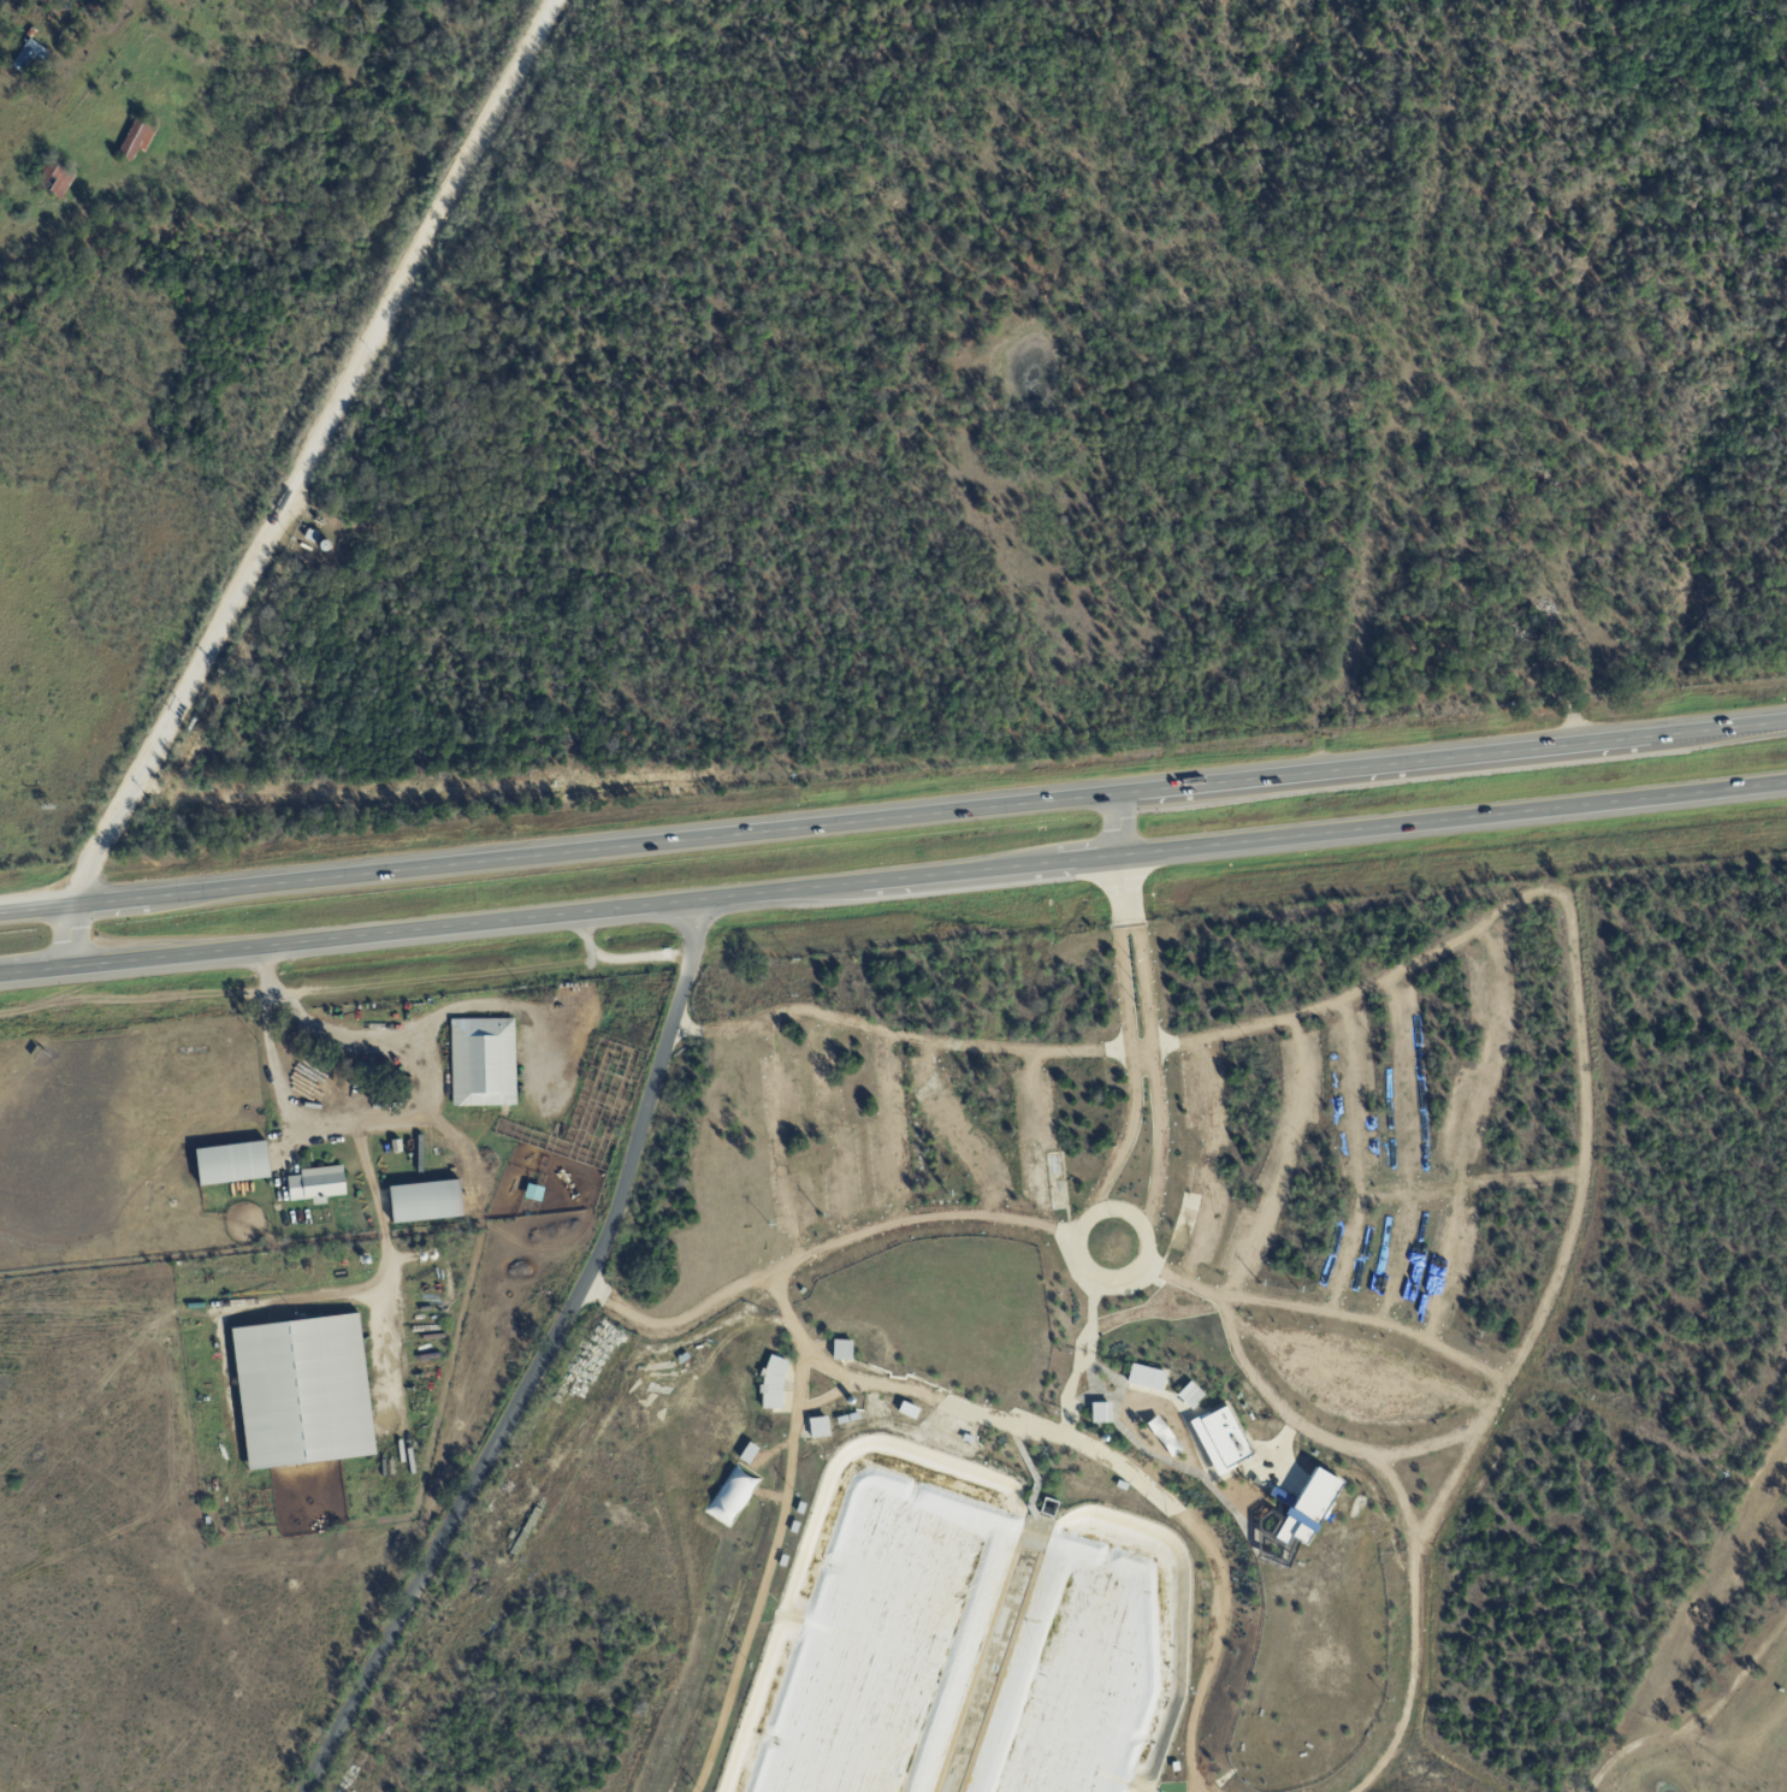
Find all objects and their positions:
building: (67, 5)
building: (97, 7)
building: (32, 34)
building: (31, 58)
building: (138, 141)
road: (20, 158)
building: (55, 182)
road: (291, 481)
building: (1549, 489)
building: (313, 537)
road: (893, 817)
road: (1120, 824)
road: (893, 880)
building: (485, 1064)
building: (195, 1065)
road: (373, 1118)
building: (397, 1148)
building: (386, 1149)
building: (233, 1166)
building: (319, 1187)
building: (535, 1195)
road: (381, 1200)
road: (1125, 1203)
building: (428, 1205)
road: (1043, 1206)
road: (1063, 1223)
road: (1132, 1273)
building: (841, 1349)
road: (533, 1358)
building: (1146, 1377)
building: (771, 1383)
building: (304, 1392)
building: (1189, 1395)
building: (1100, 1413)
building: (817, 1427)
building: (1162, 1436)
building: (1219, 1438)
building: (747, 1453)
building: (1261, 1737)

